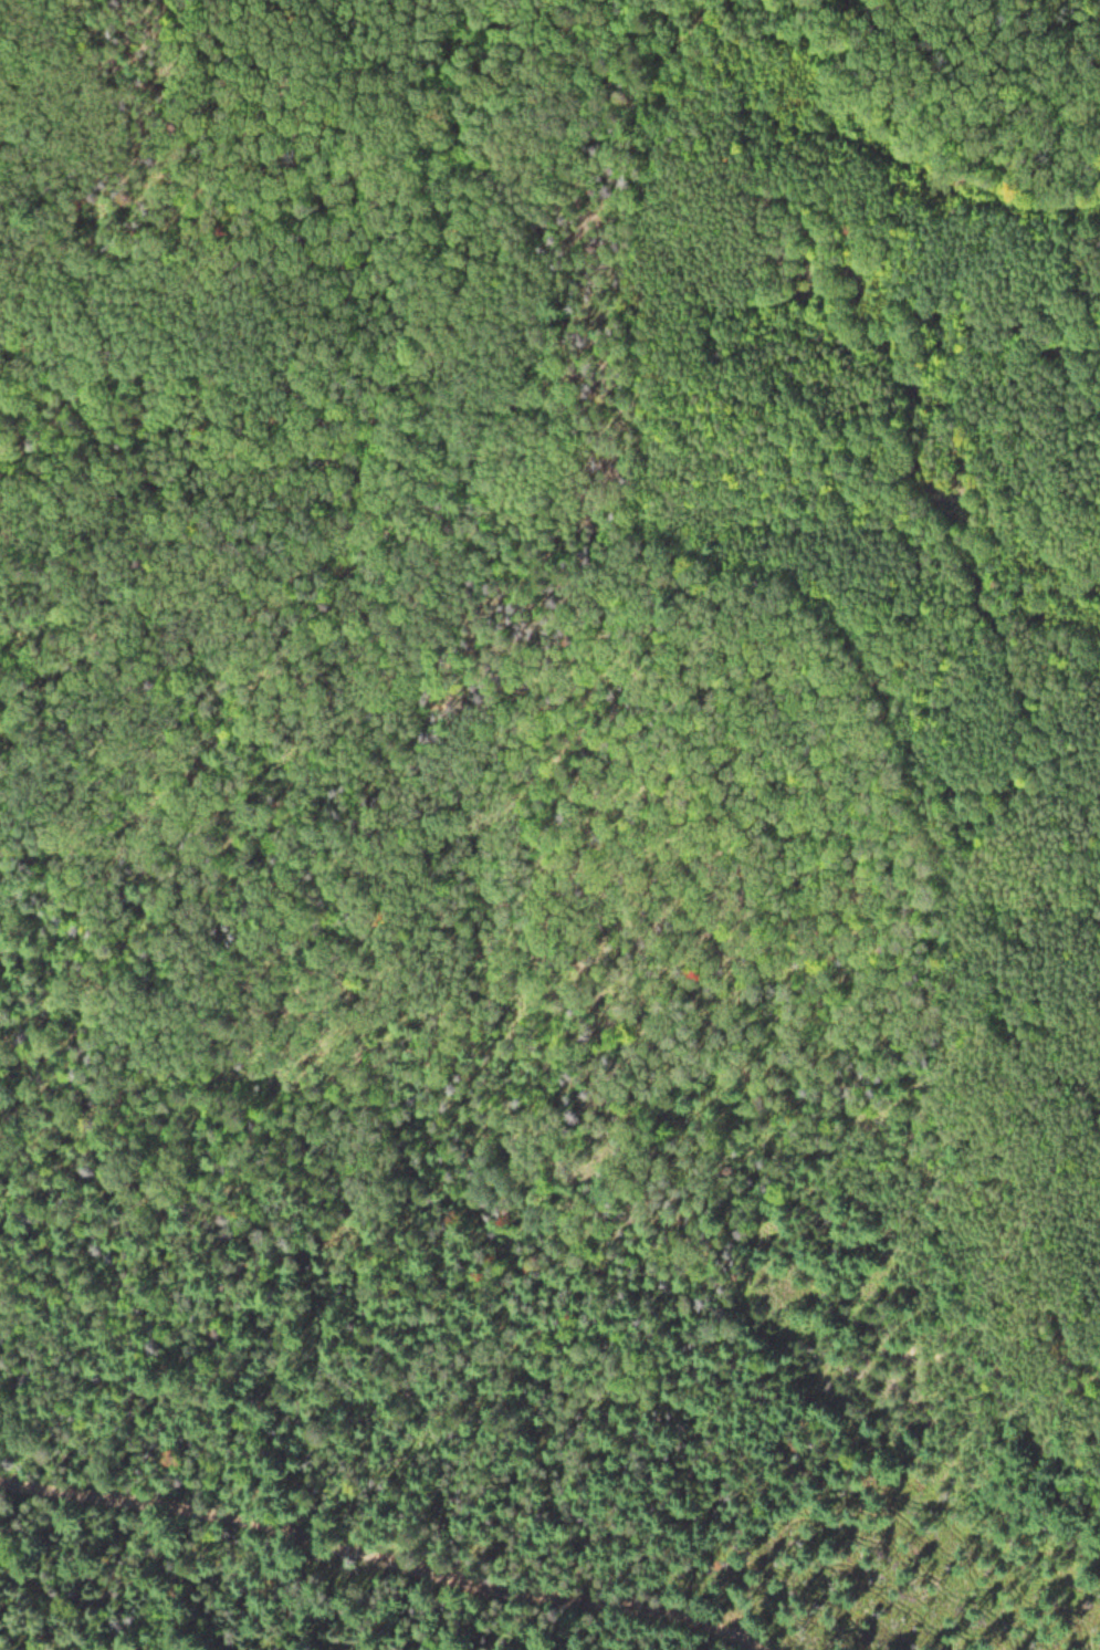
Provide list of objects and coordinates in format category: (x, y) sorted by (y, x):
road: (388, 1565)

